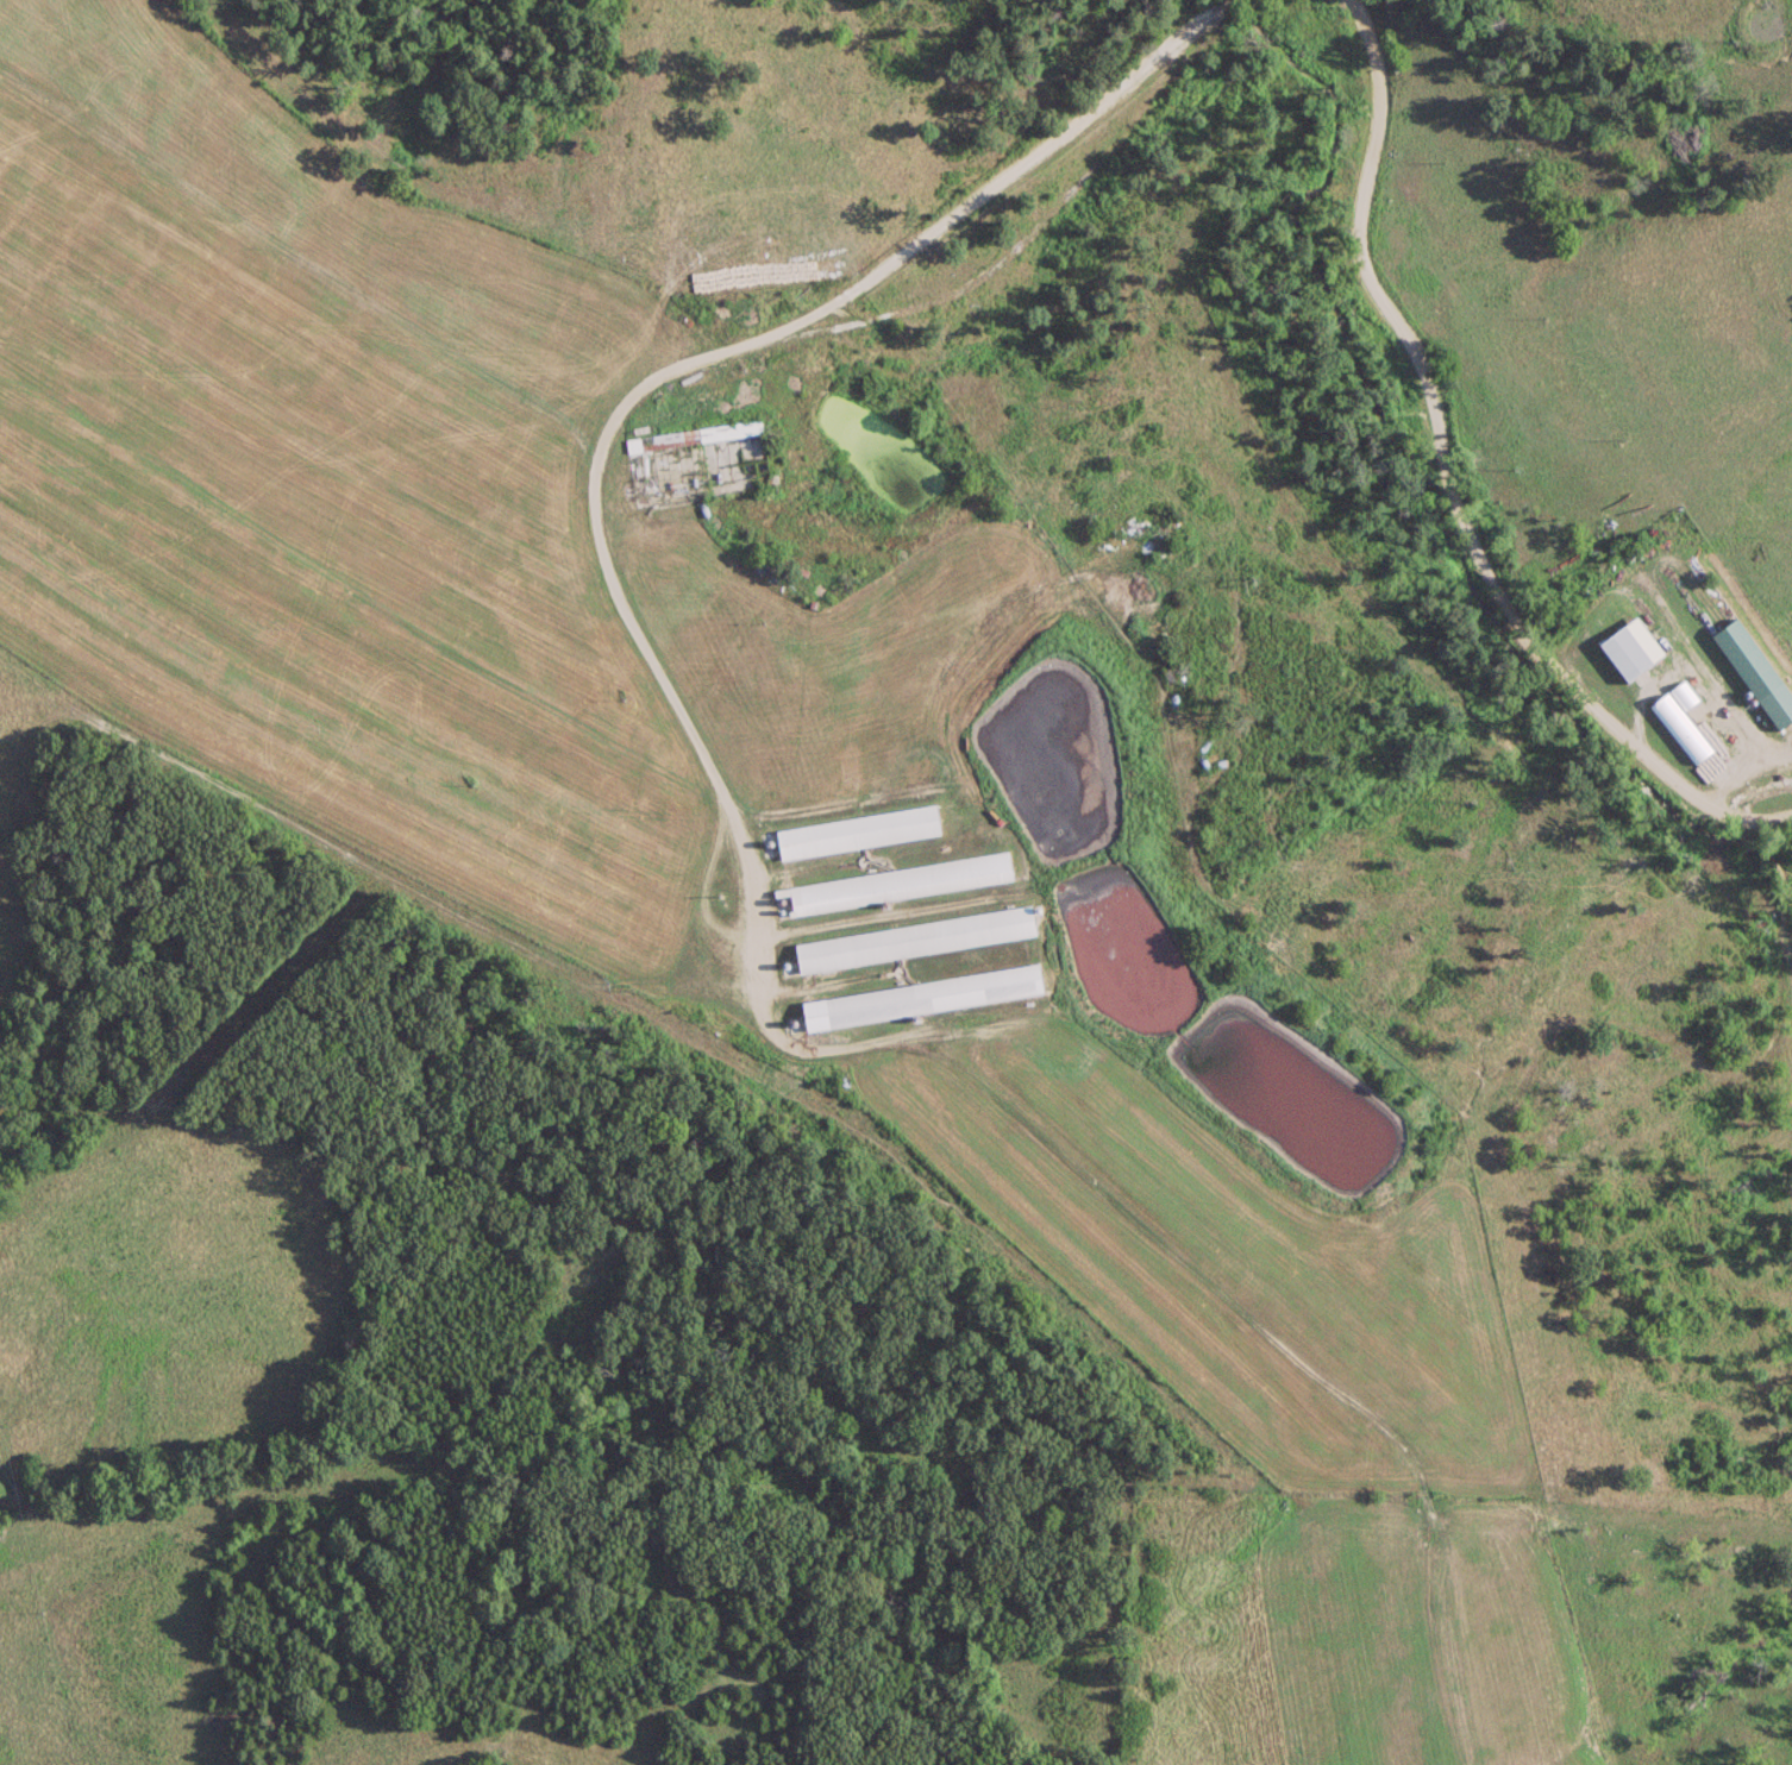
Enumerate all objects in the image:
road: (751, 341)
building: (703, 444)
road: (1442, 484)
building: (1628, 654)
building: (1757, 673)
building: (858, 834)
building: (895, 885)
building: (916, 940)
building: (925, 998)

